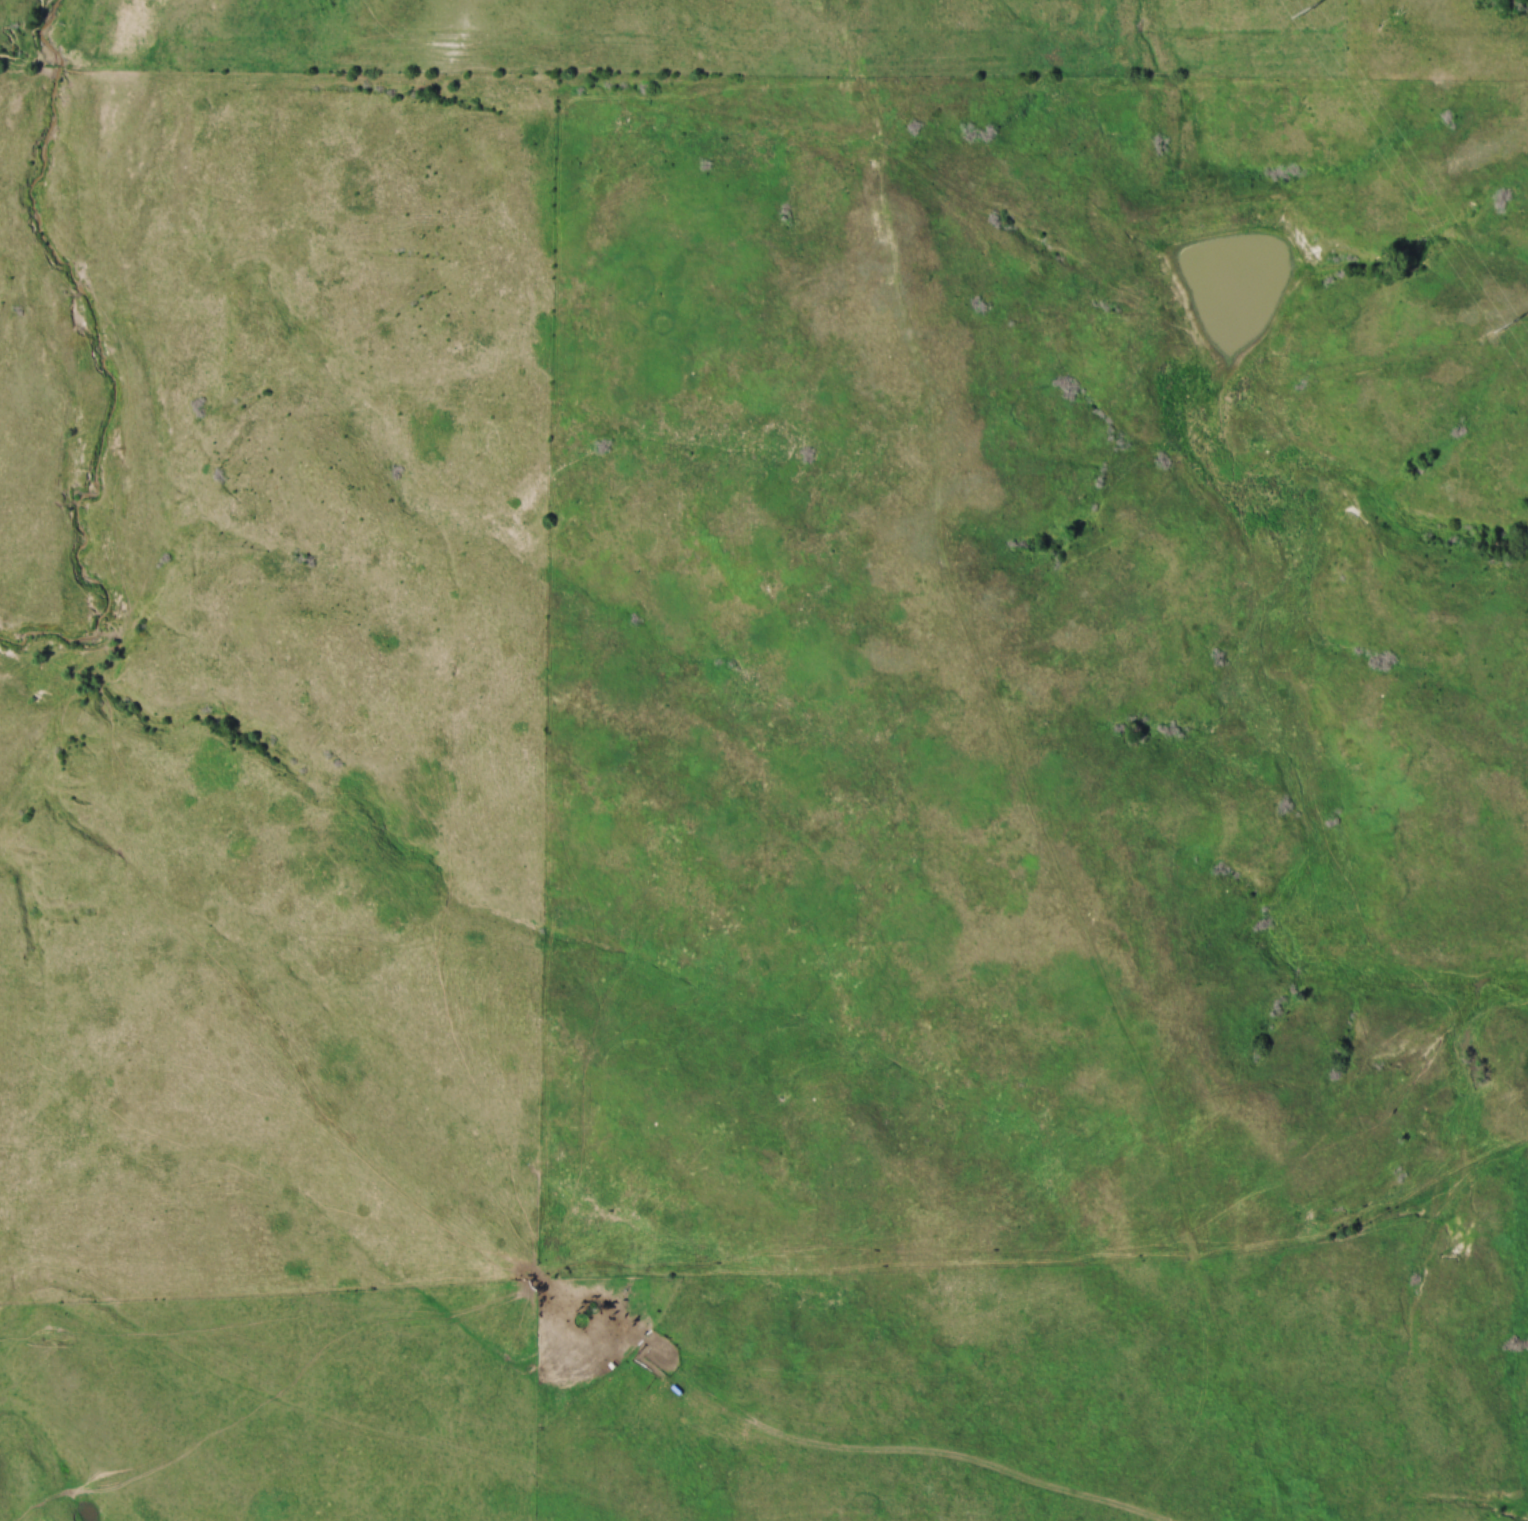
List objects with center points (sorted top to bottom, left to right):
power tower: (1310, 13)
power tower: (1513, 326)

